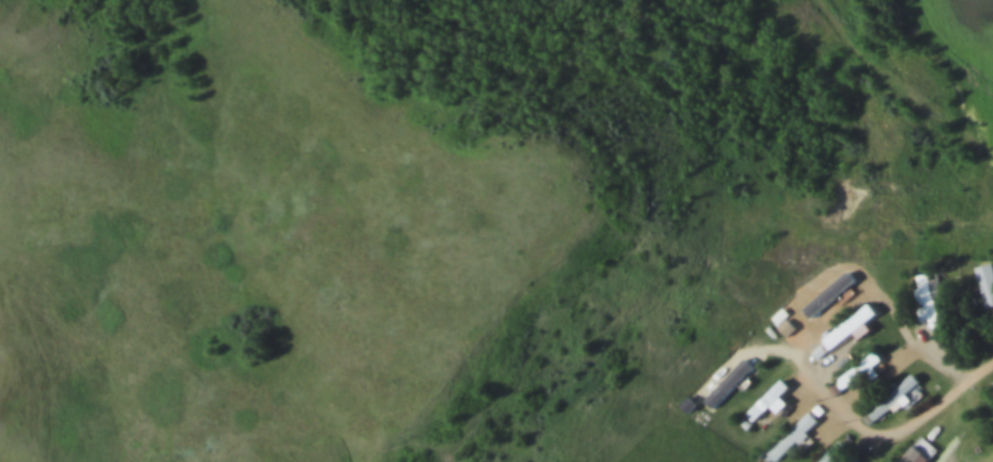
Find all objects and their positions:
road: (895, 87)
building: (986, 277)
building: (826, 292)
building: (928, 295)
building: (786, 324)
building: (839, 330)
building: (851, 330)
road: (801, 350)
building: (856, 366)
road: (985, 374)
building: (729, 378)
building: (893, 390)
building: (768, 397)
building: (897, 398)
building: (791, 430)
building: (832, 449)
building: (916, 450)

